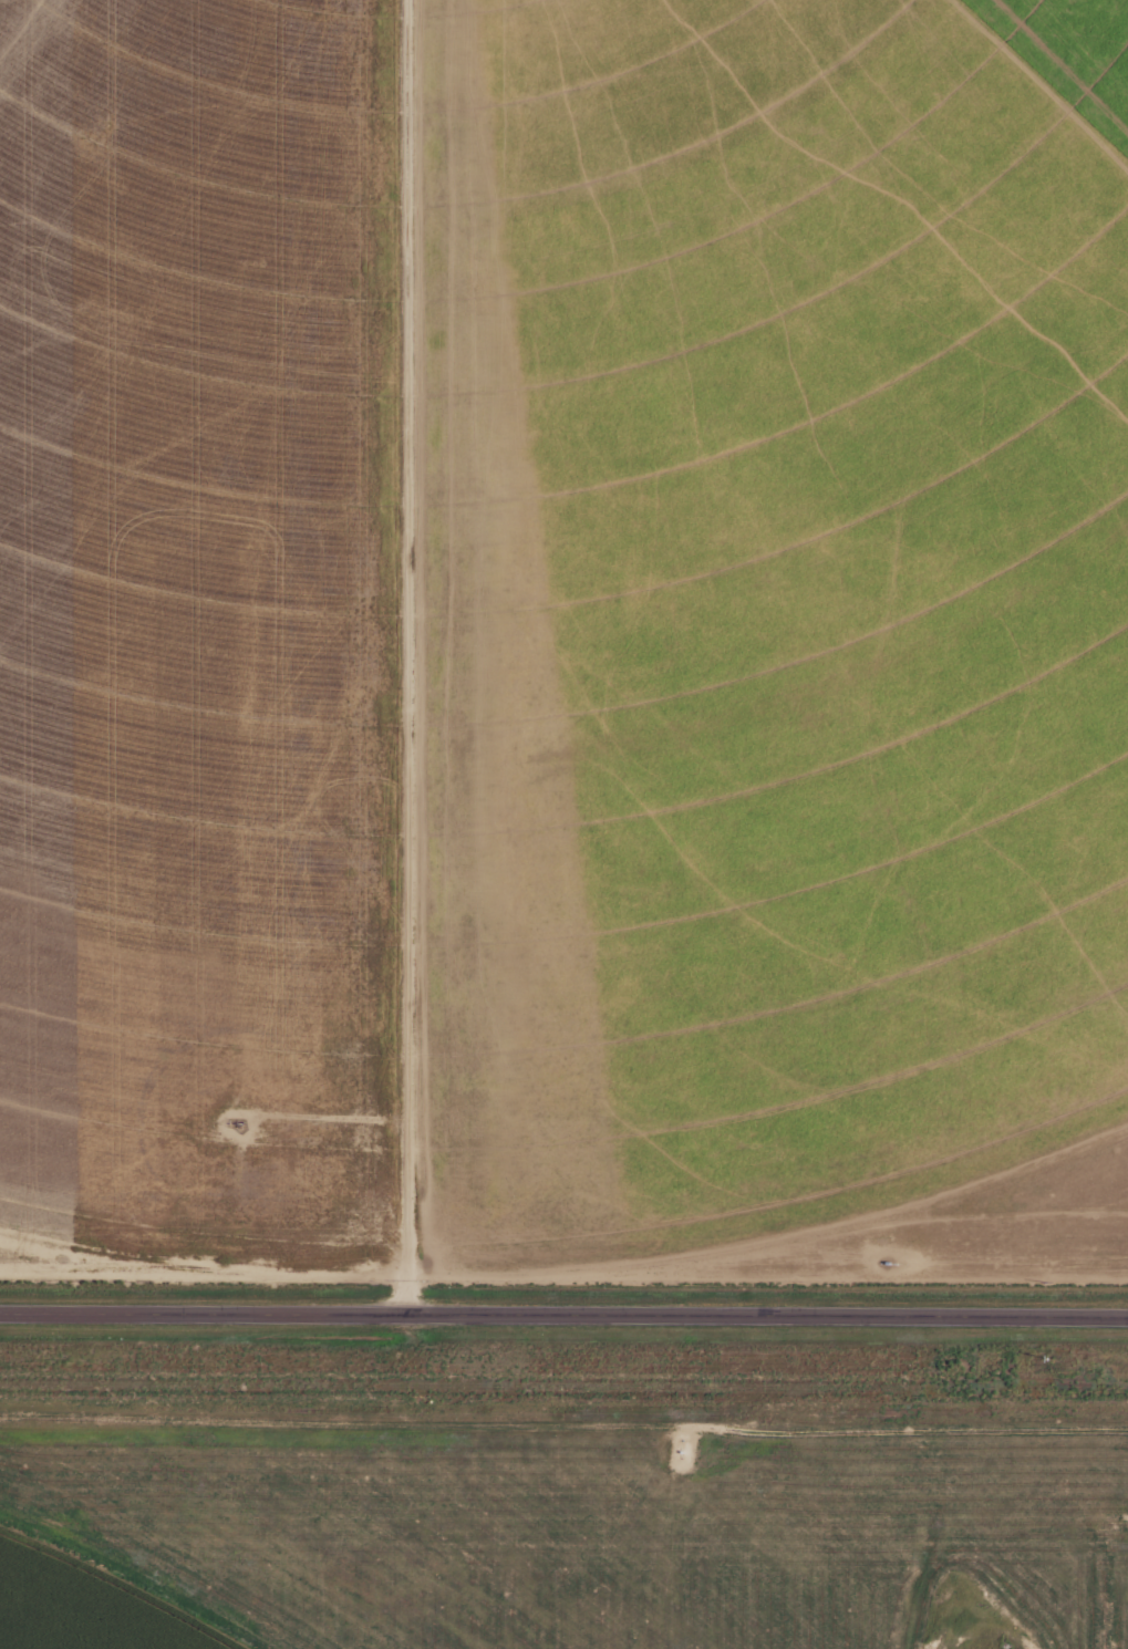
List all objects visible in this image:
road: (563, 1313)

